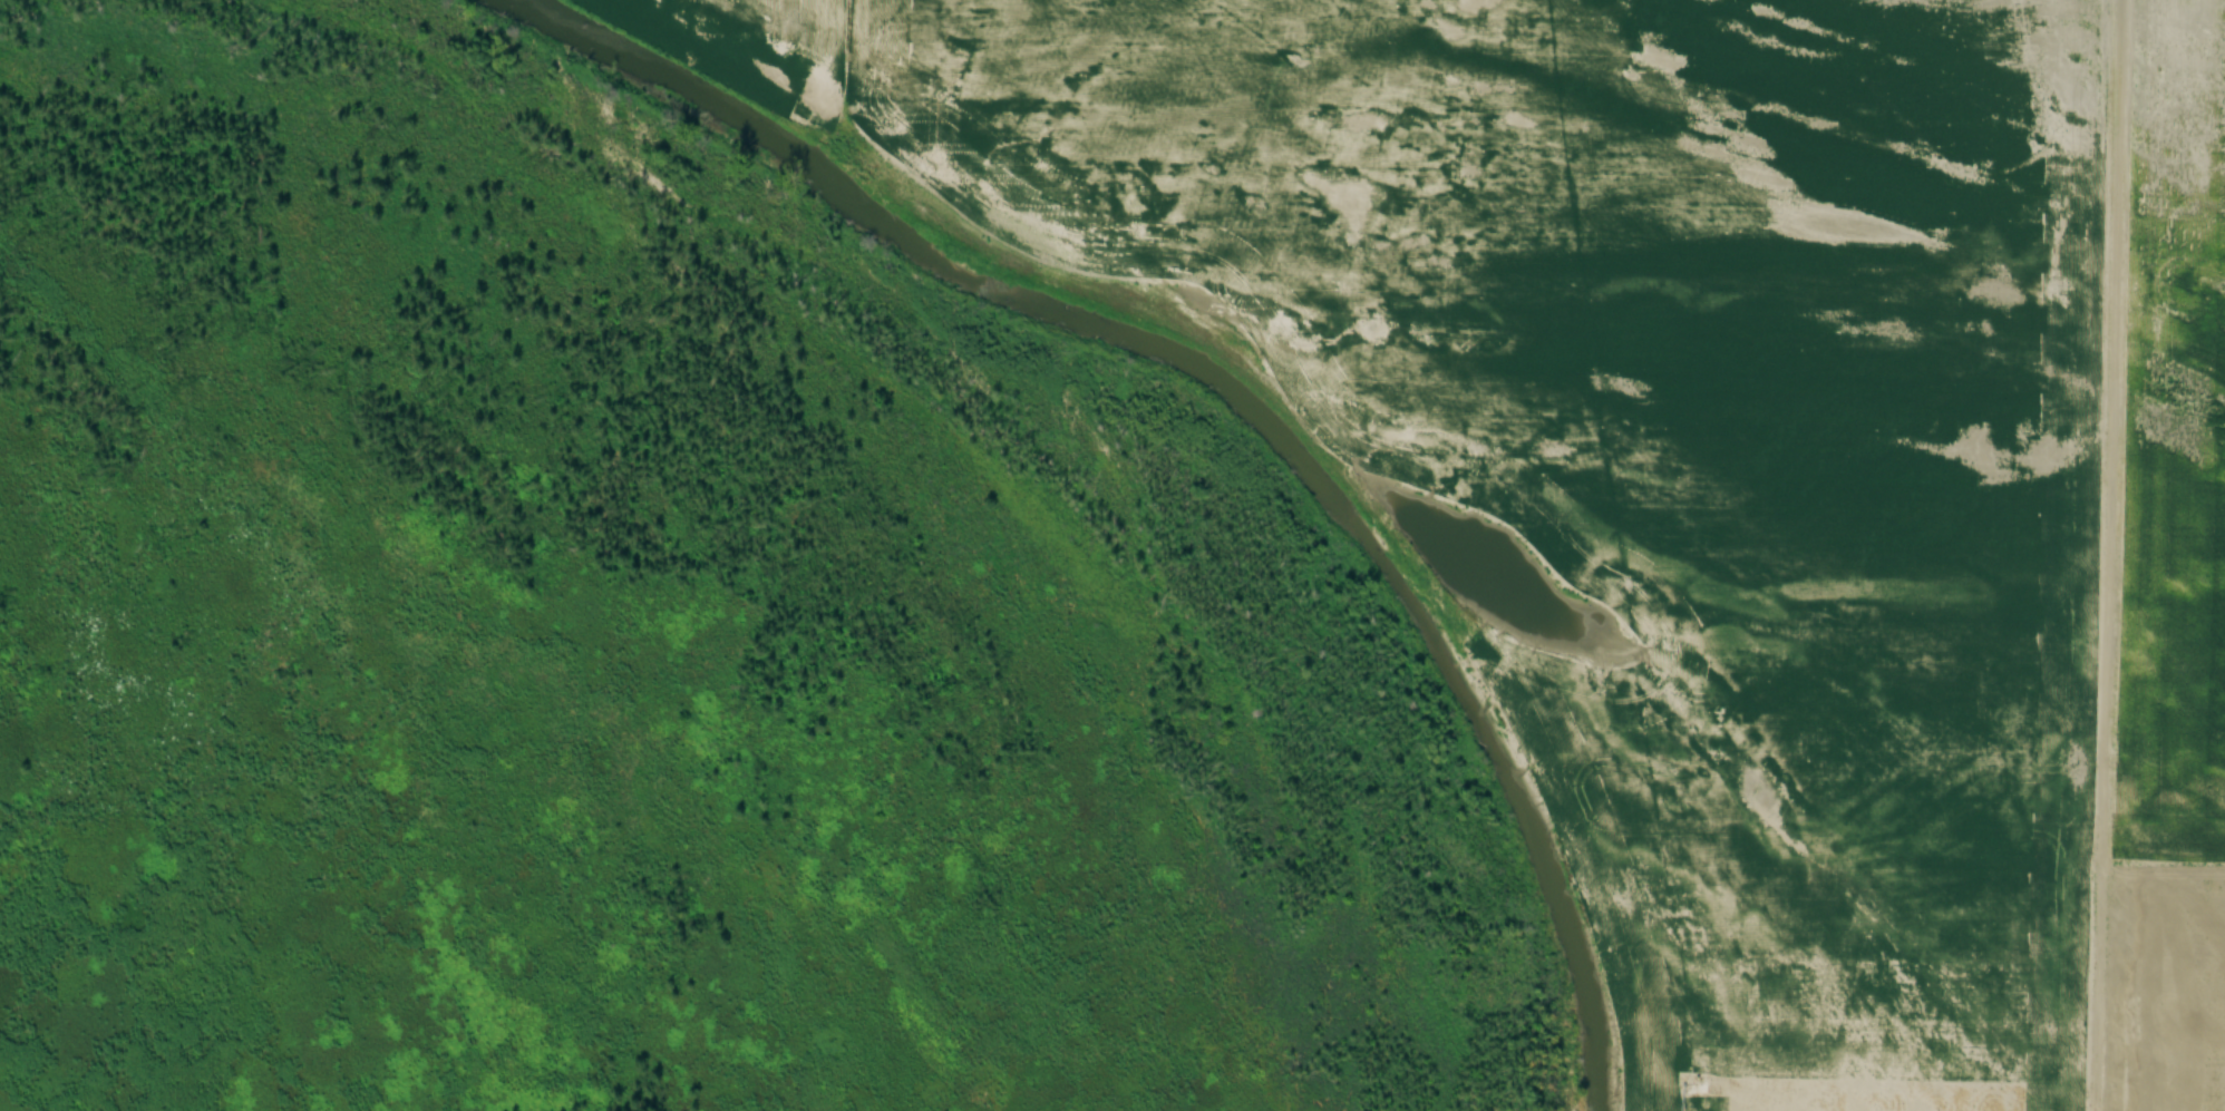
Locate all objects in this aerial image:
road: (2107, 555)

